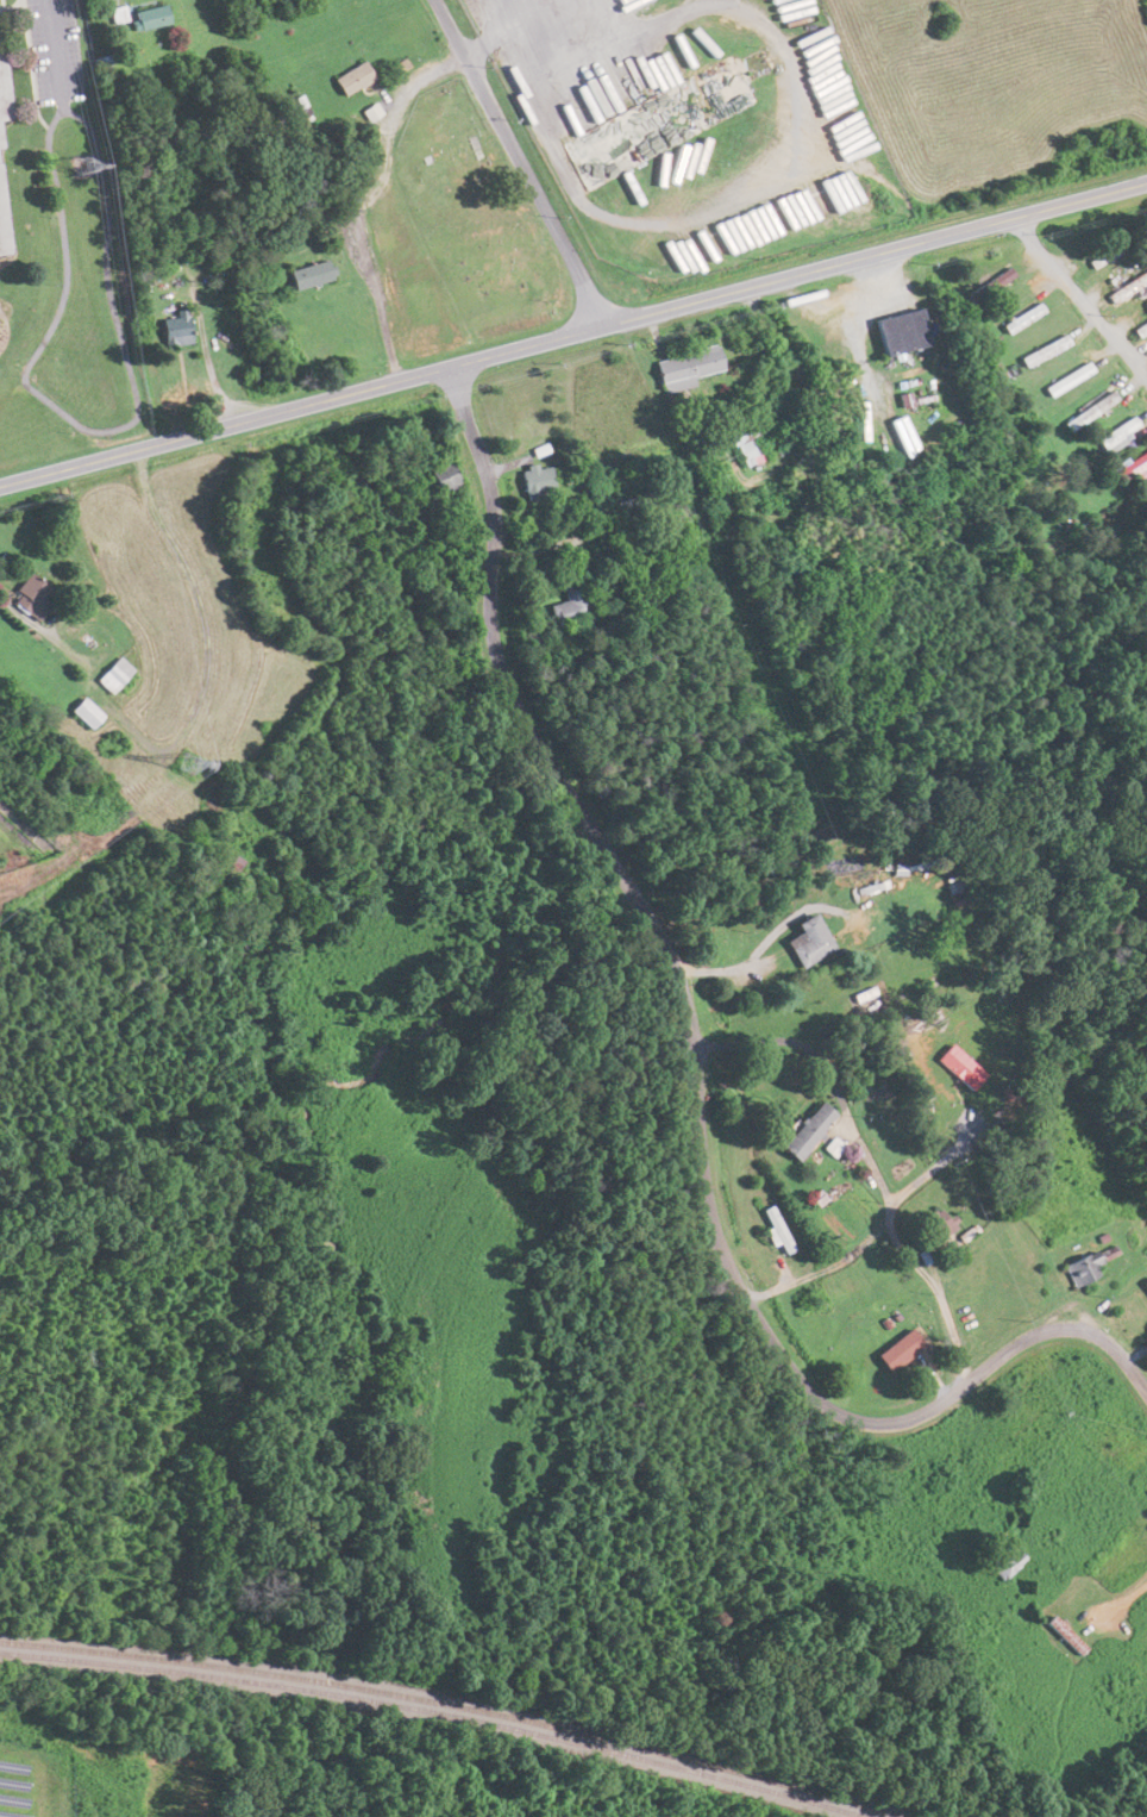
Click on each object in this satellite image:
building: (148, 15)
building: (351, 79)
building: (5, 94)
road: (521, 161)
building: (4, 224)
building: (1101, 257)
building: (308, 274)
building: (989, 285)
building: (1126, 287)
road: (1080, 296)
building: (1021, 318)
building: (176, 329)
building: (1140, 329)
building: (898, 332)
road: (572, 333)
building: (1042, 350)
building: (688, 367)
building: (1066, 380)
building: (1089, 411)
building: (1117, 433)
building: (747, 438)
building: (897, 439)
building: (441, 477)
building: (534, 480)
building: (1146, 493)
building: (30, 599)
building: (569, 604)
building: (112, 674)
building: (83, 712)
building: (808, 941)
road: (694, 1066)
building: (806, 1130)
building: (940, 1225)
building: (775, 1230)
road: (861, 1243)
building: (1082, 1269)
building: (1146, 1285)
road: (940, 1295)
building: (898, 1350)
building: (1005, 1562)
building: (1065, 1635)
railway: (462, 1705)

